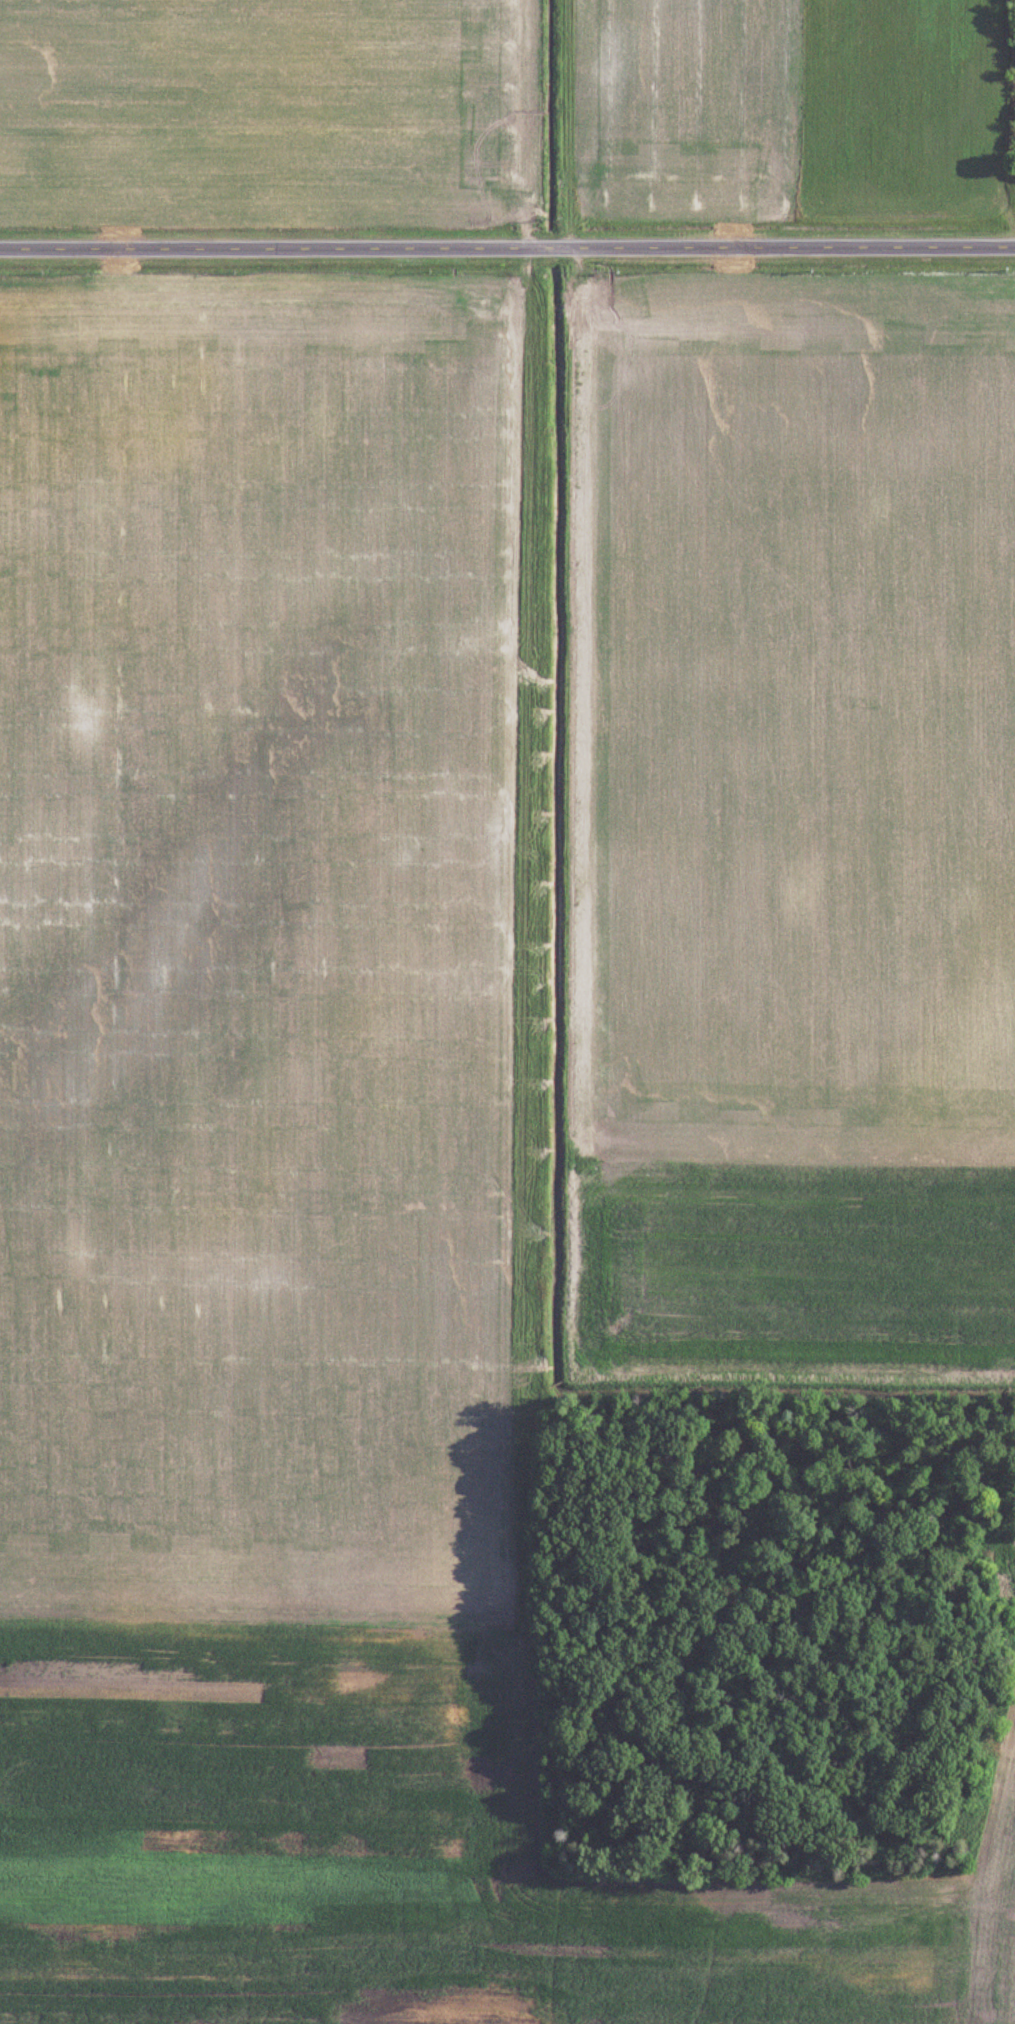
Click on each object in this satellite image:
road: (507, 239)

